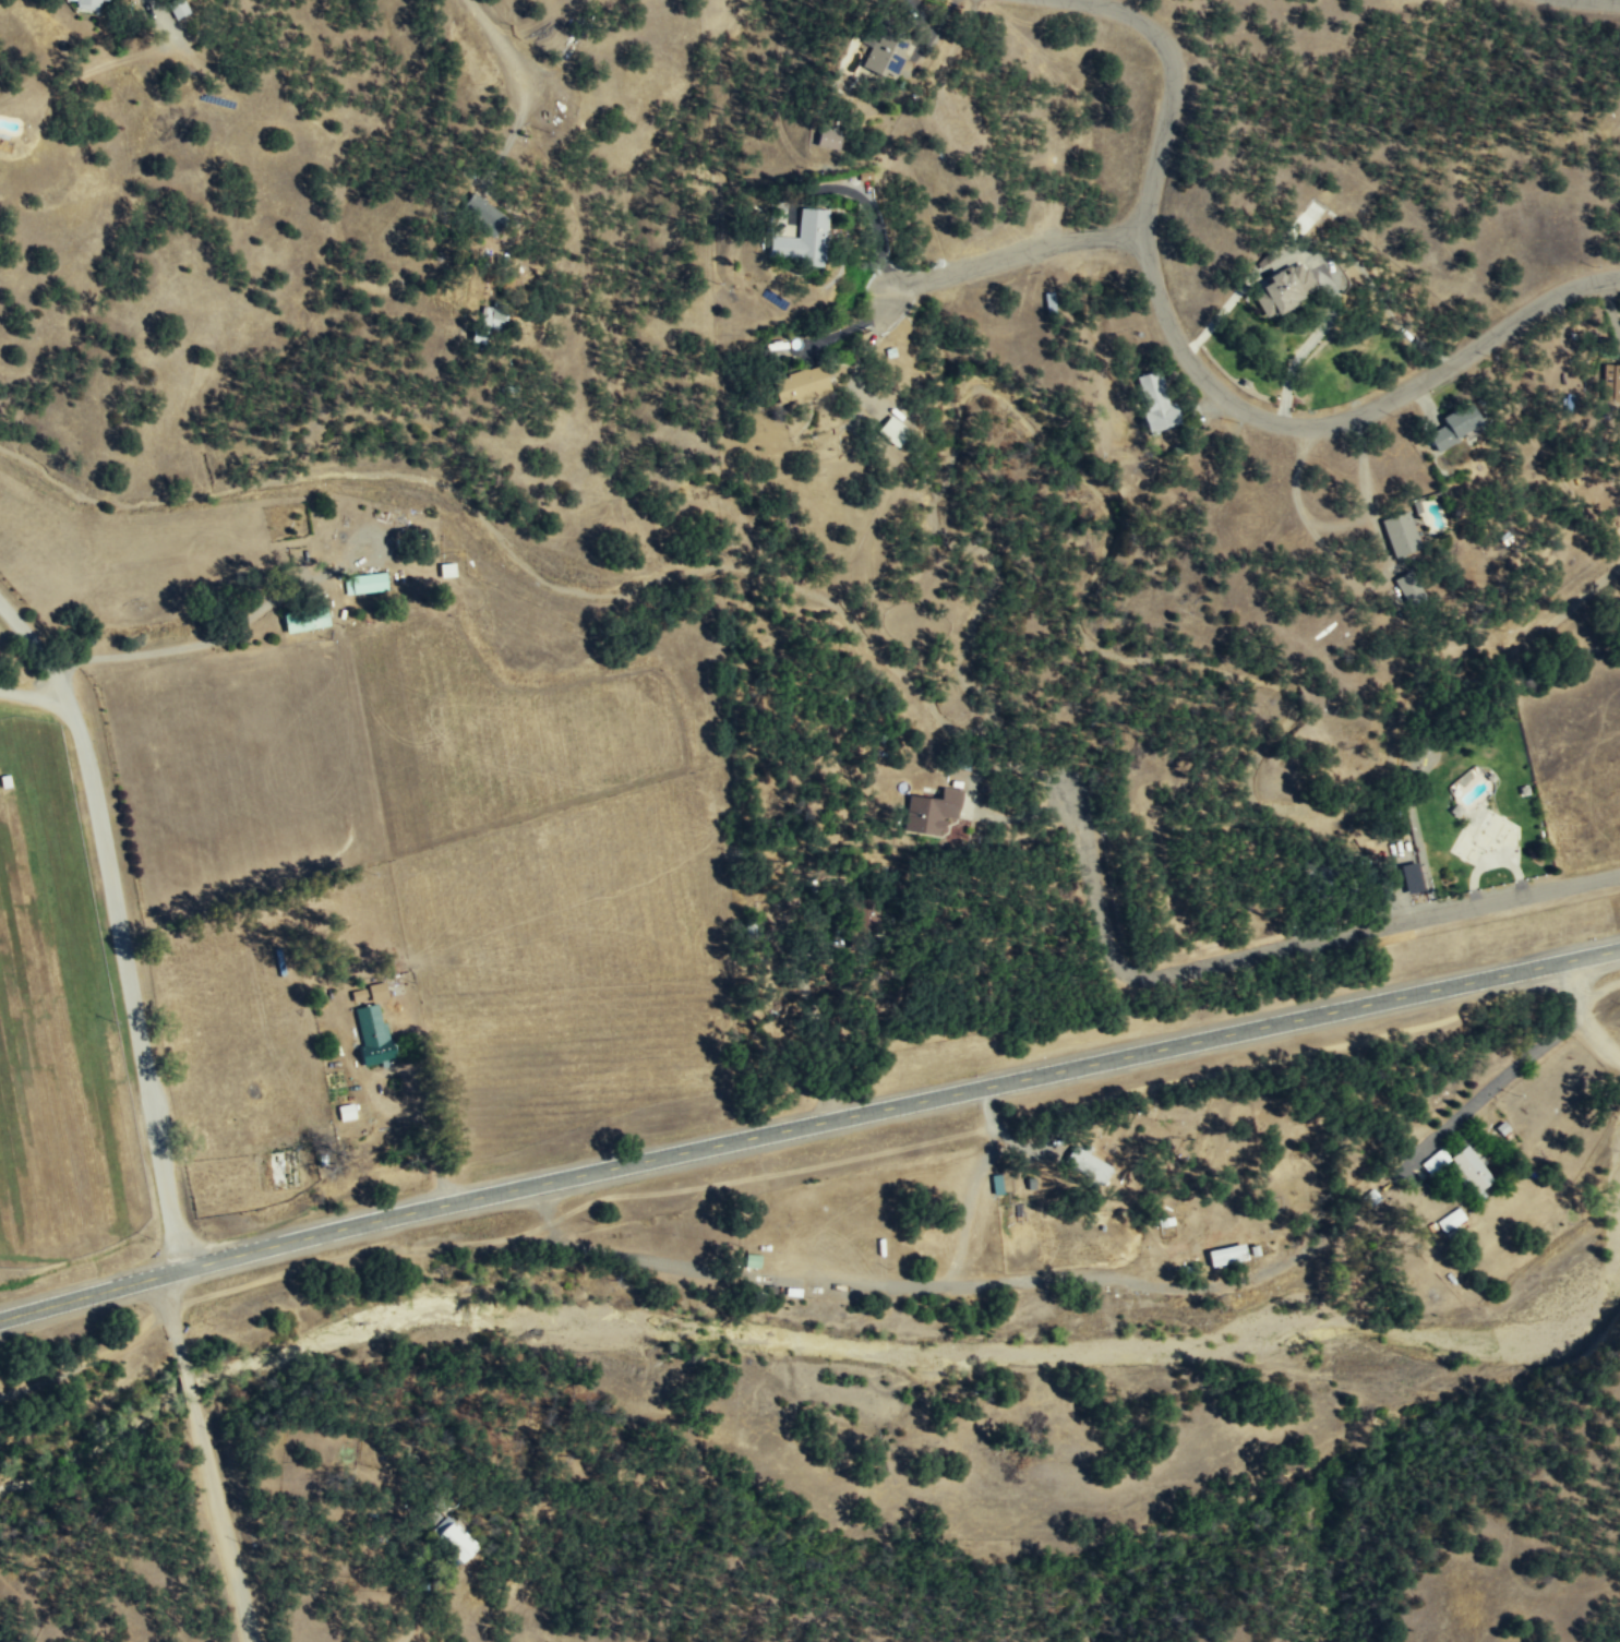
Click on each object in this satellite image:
road: (1604, 1)
building: (89, 5)
building: (180, 11)
road: (495, 40)
building: (888, 56)
road: (512, 134)
building: (831, 140)
road: (867, 204)
building: (484, 212)
building: (805, 237)
road: (1019, 251)
building: (1332, 276)
building: (1288, 288)
building: (495, 315)
road: (847, 328)
road: (861, 355)
road: (1208, 374)
building: (1613, 379)
building: (802, 384)
building: (1159, 401)
building: (1456, 426)
building: (893, 429)
building: (1401, 534)
building: (447, 570)
building: (365, 583)
building: (1409, 587)
building: (304, 620)
road: (38, 695)
building: (933, 811)
road: (120, 924)
road: (1286, 951)
building: (377, 991)
building: (359, 994)
road: (1592, 1009)
crop: (57, 1024)
building: (373, 1034)
road: (1498, 1079)
building: (347, 1112)
road: (807, 1129)
building: (1437, 1161)
building: (1089, 1164)
building: (1474, 1168)
building: (997, 1184)
building: (1451, 1219)
building: (1228, 1255)
building: (753, 1260)
river: (1205, 1339)
road: (216, 1458)
building: (454, 1538)

